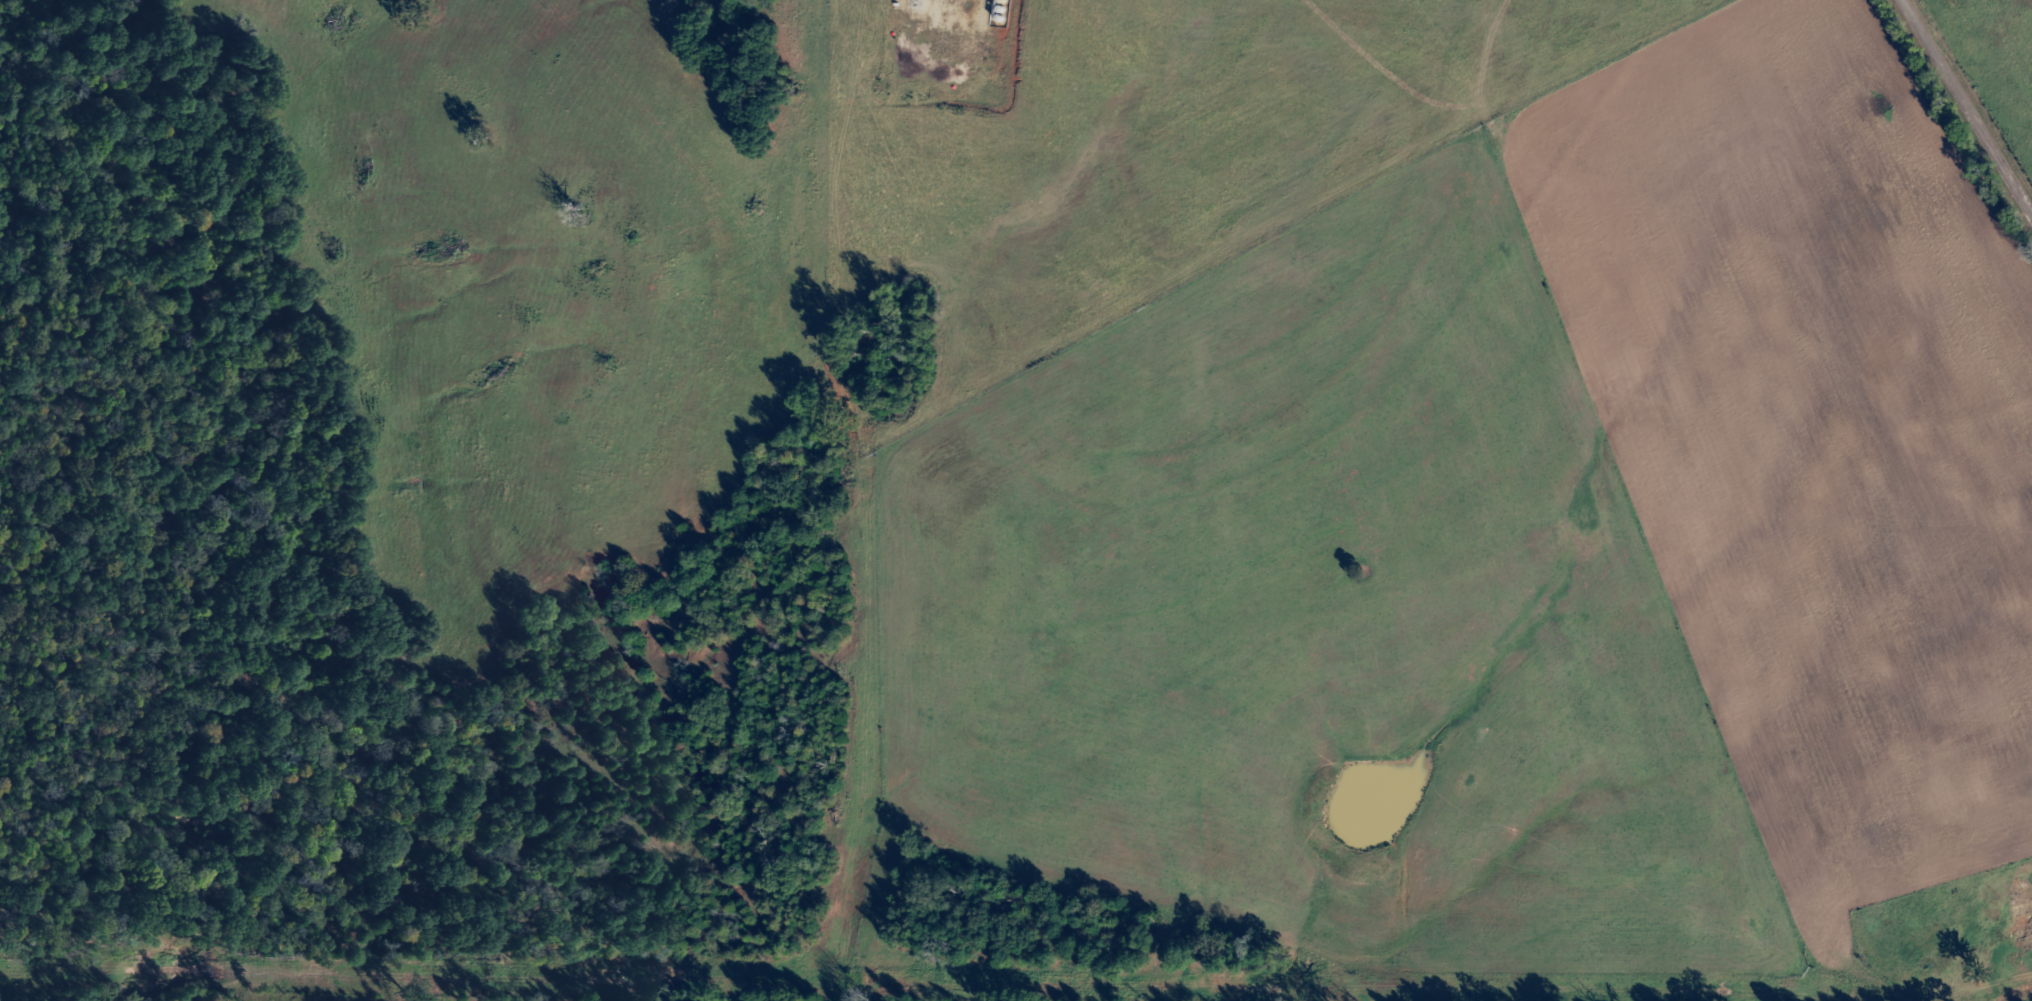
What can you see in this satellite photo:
road: (1965, 107)

